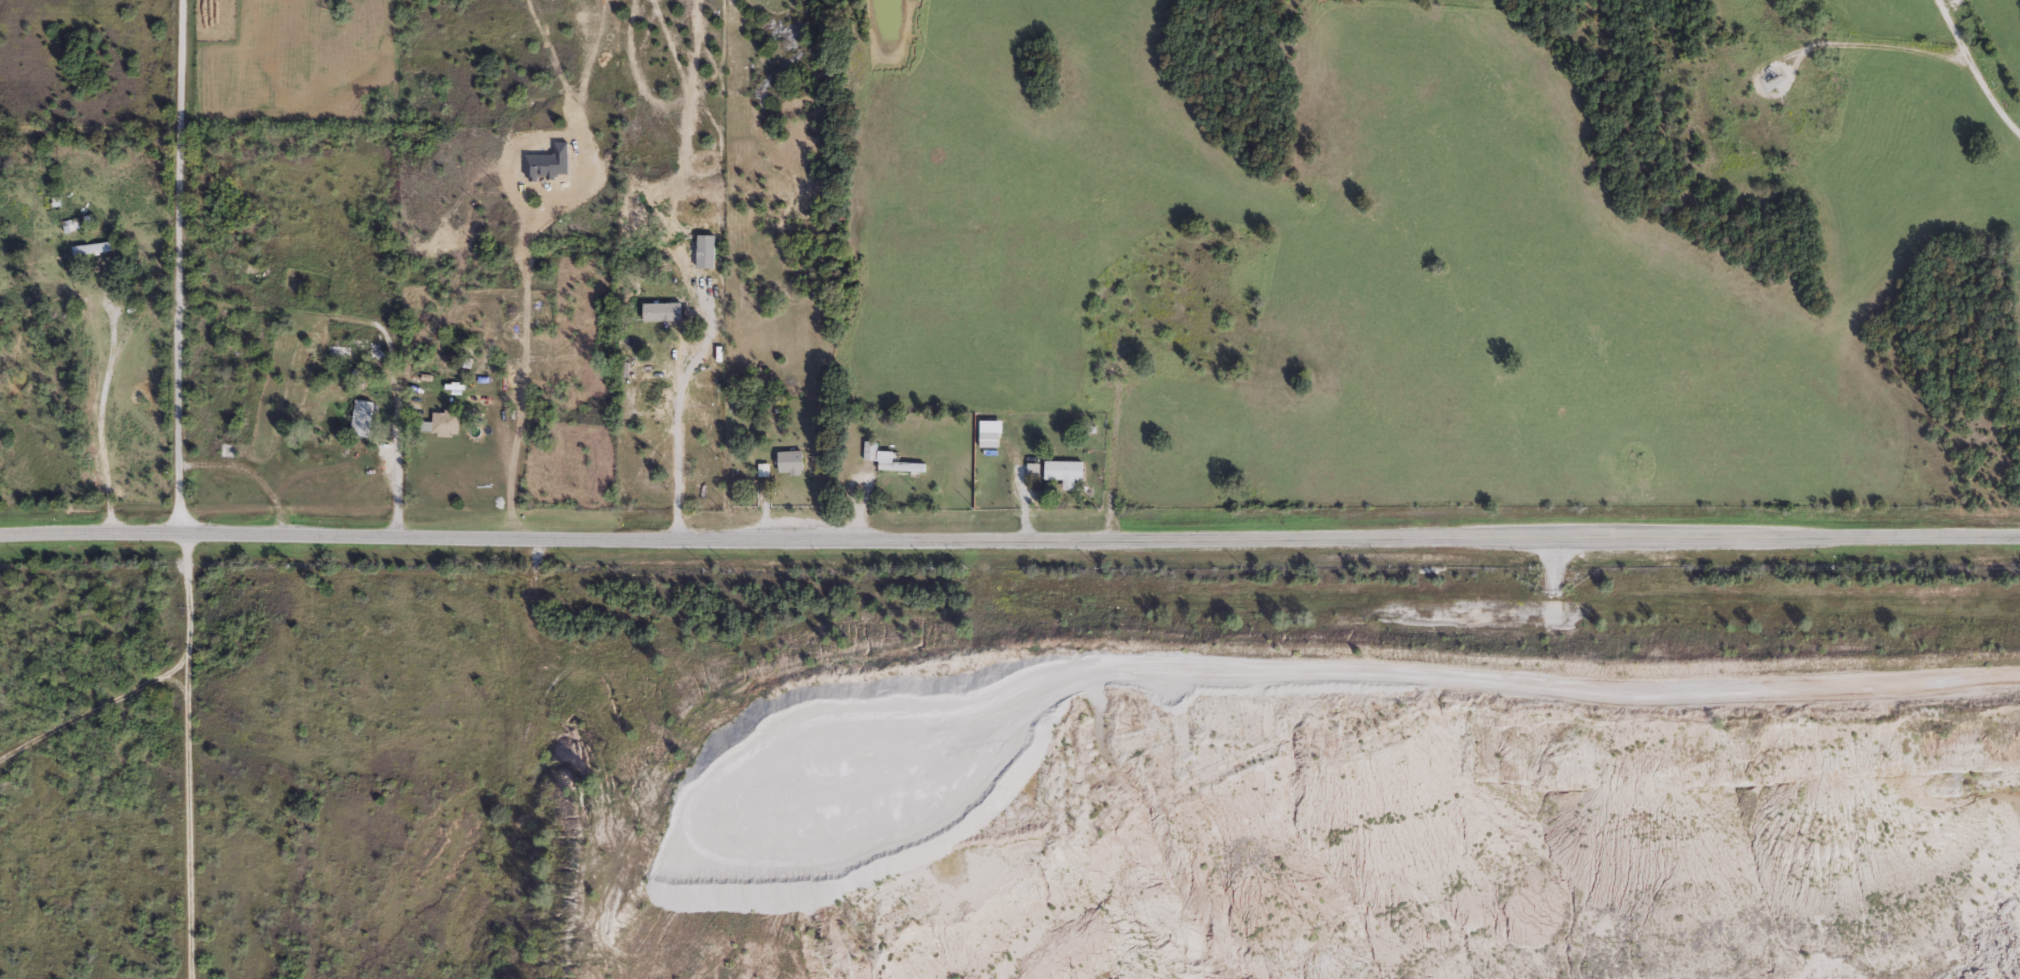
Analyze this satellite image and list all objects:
road: (1975, 64)
building: (93, 247)
road: (160, 288)
building: (665, 319)
building: (356, 350)
building: (363, 416)
building: (443, 423)
building: (990, 438)
road: (679, 449)
building: (871, 449)
road: (397, 458)
building: (793, 462)
building: (900, 465)
building: (1033, 470)
building: (1064, 471)
road: (1009, 542)
road: (179, 757)
quarry: (1290, 793)

